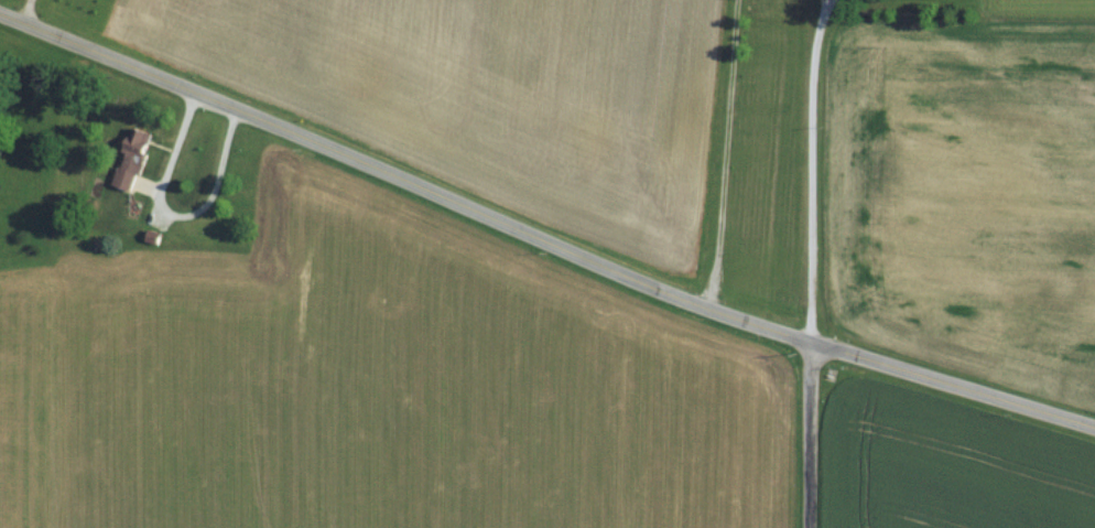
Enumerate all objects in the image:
road: (23, 11)
road: (723, 154)
building: (137, 158)
road: (807, 170)
road: (171, 215)
road: (540, 239)
road: (807, 435)

